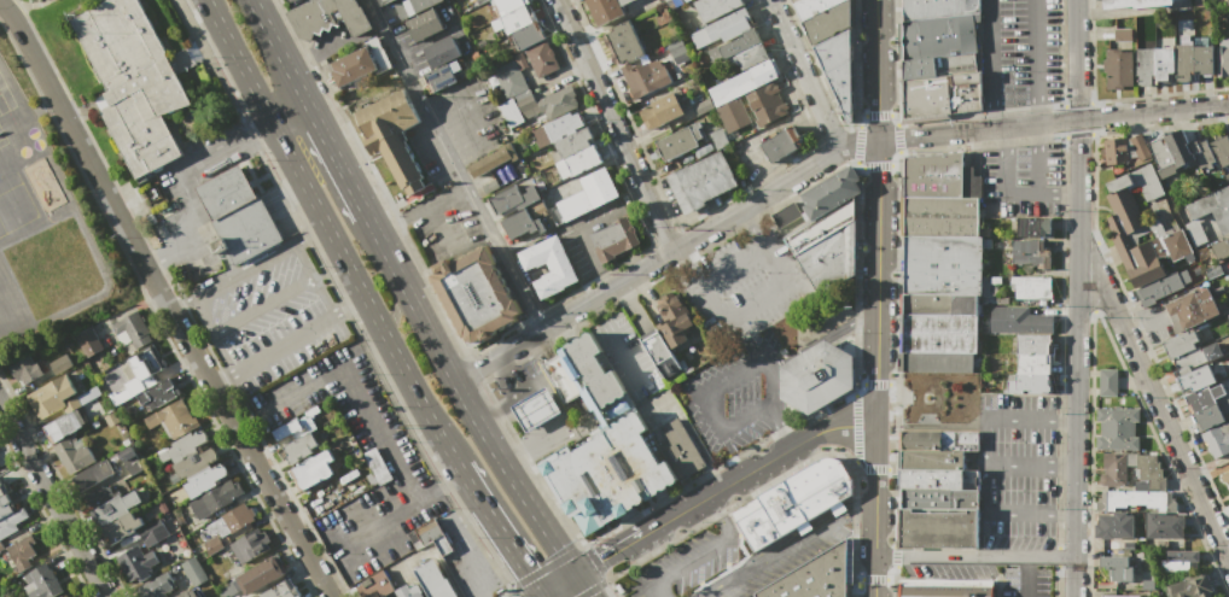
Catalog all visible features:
building: (793, 0)
building: (33, 1)
building: (386, 1)
building: (480, 1)
building: (1227, 1)
building: (1198, 2)
building: (1131, 4)
building: (508, 5)
building: (410, 6)
building: (811, 6)
building: (715, 7)
building: (937, 7)
building: (605, 8)
building: (330, 17)
building: (517, 17)
building: (827, 22)
building: (423, 24)
building: (729, 25)
building: (1123, 34)
building: (525, 35)
building: (939, 36)
building: (623, 42)
building: (733, 46)
road: (333, 47)
building: (676, 48)
road: (278, 51)
building: (441, 51)
building: (751, 55)
building: (541, 58)
building: (1222, 58)
building: (519, 59)
road: (1076, 59)
building: (1202, 59)
road: (238, 60)
building: (359, 62)
road: (1037, 62)
building: (1164, 63)
building: (1183, 63)
building: (167, 64)
road: (989, 64)
building: (1144, 65)
building: (1117, 68)
building: (838, 69)
road: (878, 69)
building: (919, 69)
road: (806, 74)
building: (441, 76)
building: (645, 77)
building: (509, 78)
building: (130, 81)
building: (739, 92)
building: (963, 93)
building: (107, 96)
building: (925, 98)
building: (558, 100)
building: (525, 103)
building: (765, 104)
building: (701, 107)
building: (663, 109)
road: (289, 112)
building: (511, 112)
road: (477, 113)
road: (1108, 116)
road: (614, 125)
building: (558, 129)
building: (391, 134)
road: (934, 134)
building: (717, 139)
building: (677, 141)
building: (573, 142)
building: (781, 144)
road: (860, 144)
road: (226, 146)
building: (1140, 147)
building: (1180, 147)
building: (1194, 147)
building: (1221, 150)
building: (1114, 151)
building: (1204, 154)
building: (1161, 157)
road: (334, 159)
building: (493, 159)
road: (1039, 159)
road: (1002, 160)
building: (577, 162)
road: (453, 164)
building: (933, 175)
building: (703, 181)
building: (1138, 182)
building: (606, 183)
building: (489, 185)
building: (226, 191)
building: (831, 192)
road: (1038, 194)
building: (528, 195)
road: (1076, 198)
building: (506, 199)
building: (578, 201)
road: (419, 207)
building: (1212, 207)
building: (786, 213)
building: (939, 216)
building: (520, 223)
building: (790, 226)
building: (821, 226)
building: (1032, 227)
building: (247, 228)
road: (437, 228)
road: (313, 235)
building: (1171, 236)
building: (613, 239)
building: (1221, 248)
building: (1029, 252)
building: (828, 258)
building: (940, 264)
building: (548, 265)
road: (647, 265)
road: (245, 269)
building: (1184, 276)
road: (316, 277)
road: (879, 282)
building: (1030, 286)
building: (1159, 286)
road: (363, 295)
building: (474, 295)
road: (410, 298)
road: (163, 302)
road: (179, 303)
road: (713, 304)
building: (926, 304)
building: (962, 304)
road: (350, 305)
road: (264, 306)
building: (1192, 309)
road: (1149, 316)
building: (1228, 316)
building: (672, 320)
building: (1018, 320)
building: (130, 330)
building: (938, 333)
road: (211, 335)
building: (87, 340)
road: (285, 344)
building: (1032, 344)
building: (1180, 344)
building: (657, 347)
building: (1196, 356)
building: (937, 361)
building: (1033, 363)
building: (58, 364)
road: (744, 364)
building: (668, 367)
building: (24, 369)
building: (594, 370)
building: (1183, 370)
building: (140, 373)
building: (1167, 375)
building: (815, 376)
building: (560, 377)
building: (1196, 379)
road: (222, 380)
building: (1108, 382)
building: (1030, 384)
building: (159, 392)
building: (51, 394)
building: (88, 394)
park: (938, 397)
building: (1202, 397)
building: (1223, 405)
building: (535, 409)
road: (369, 410)
road: (1160, 415)
road: (1074, 416)
building: (1207, 417)
building: (173, 419)
road: (1030, 420)
building: (296, 425)
road: (780, 425)
building: (62, 426)
road: (692, 433)
building: (322, 437)
building: (920, 439)
building: (959, 439)
building: (1217, 439)
building: (1117, 443)
building: (298, 447)
building: (678, 449)
building: (72, 453)
building: (113, 457)
building: (130, 460)
building: (192, 462)
road: (1030, 466)
building: (375, 467)
road: (985, 467)
building: (313, 469)
building: (607, 473)
building: (92, 474)
building: (1224, 478)
building: (938, 479)
road: (512, 480)
road: (722, 486)
building: (2, 488)
road: (875, 490)
building: (215, 498)
building: (794, 499)
building: (1141, 499)
building: (1101, 502)
road: (52, 503)
building: (4, 505)
road: (413, 507)
road: (860, 508)
road: (1030, 515)
building: (116, 517)
road: (718, 517)
building: (11, 521)
building: (1113, 525)
building: (1163, 526)
building: (225, 527)
building: (937, 529)
building: (152, 532)
road: (499, 532)
building: (430, 537)
road: (461, 544)
building: (249, 545)
building: (21, 551)
road: (770, 554)
building: (1182, 555)
road: (973, 556)
building: (1113, 561)
building: (136, 563)
road: (691, 563)
building: (1178, 564)
building: (193, 570)
building: (1119, 573)
traffic signals: (576, 574)
building: (260, 575)
building: (812, 576)
road: (873, 576)
road: (1024, 576)
road: (1072, 576)
building: (432, 580)
building: (40, 583)
road: (558, 584)
building: (374, 585)
road: (582, 585)
building: (158, 586)
building: (1190, 586)
building: (944, 587)
building: (226, 590)
building: (280, 590)
building: (409, 591)
road: (654, 592)
building: (190, 593)
traffic signals: (541, 595)
building: (66, 596)
road: (538, 596)
road: (541, 596)
building: (1119, 596)

